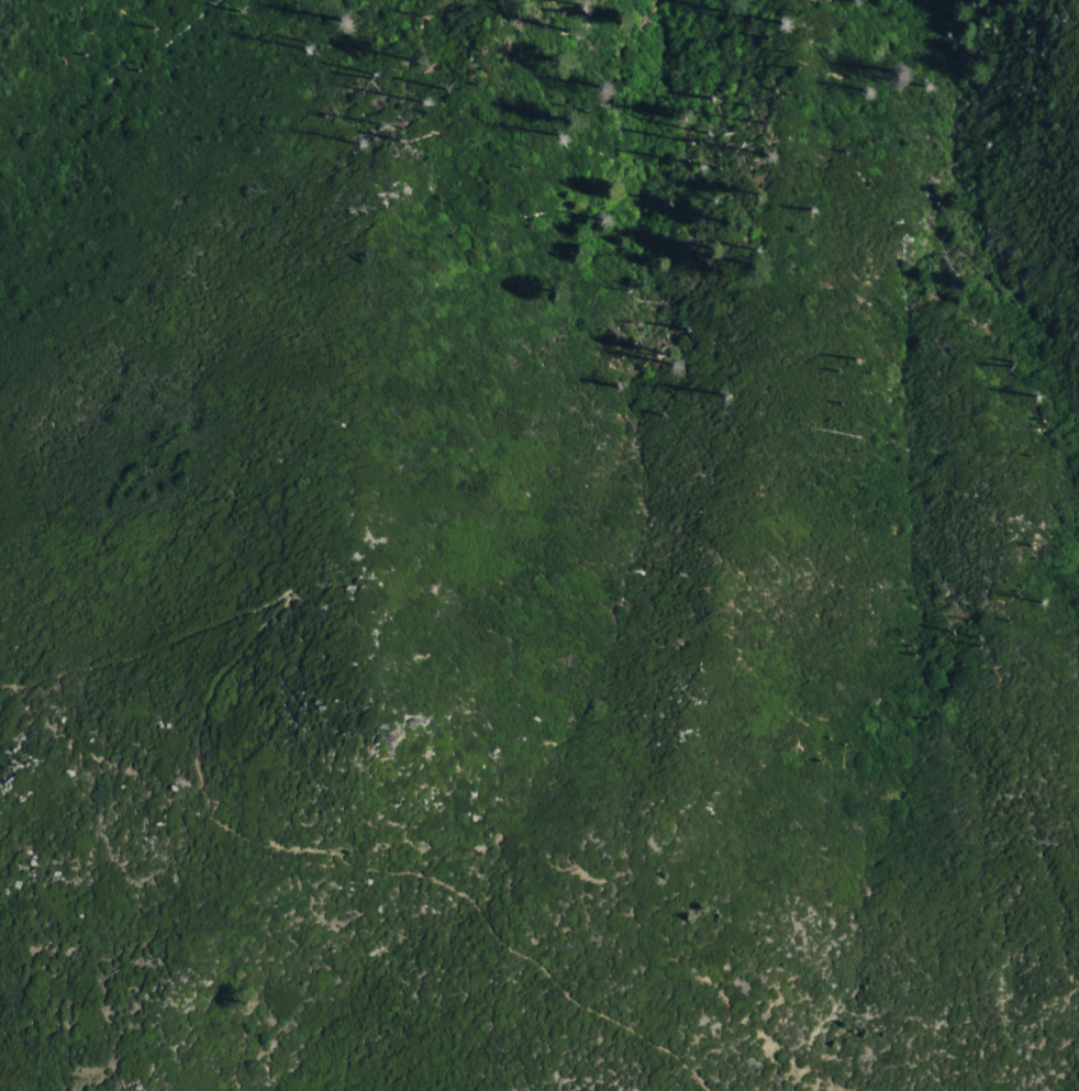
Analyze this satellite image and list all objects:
road: (221, 825)

